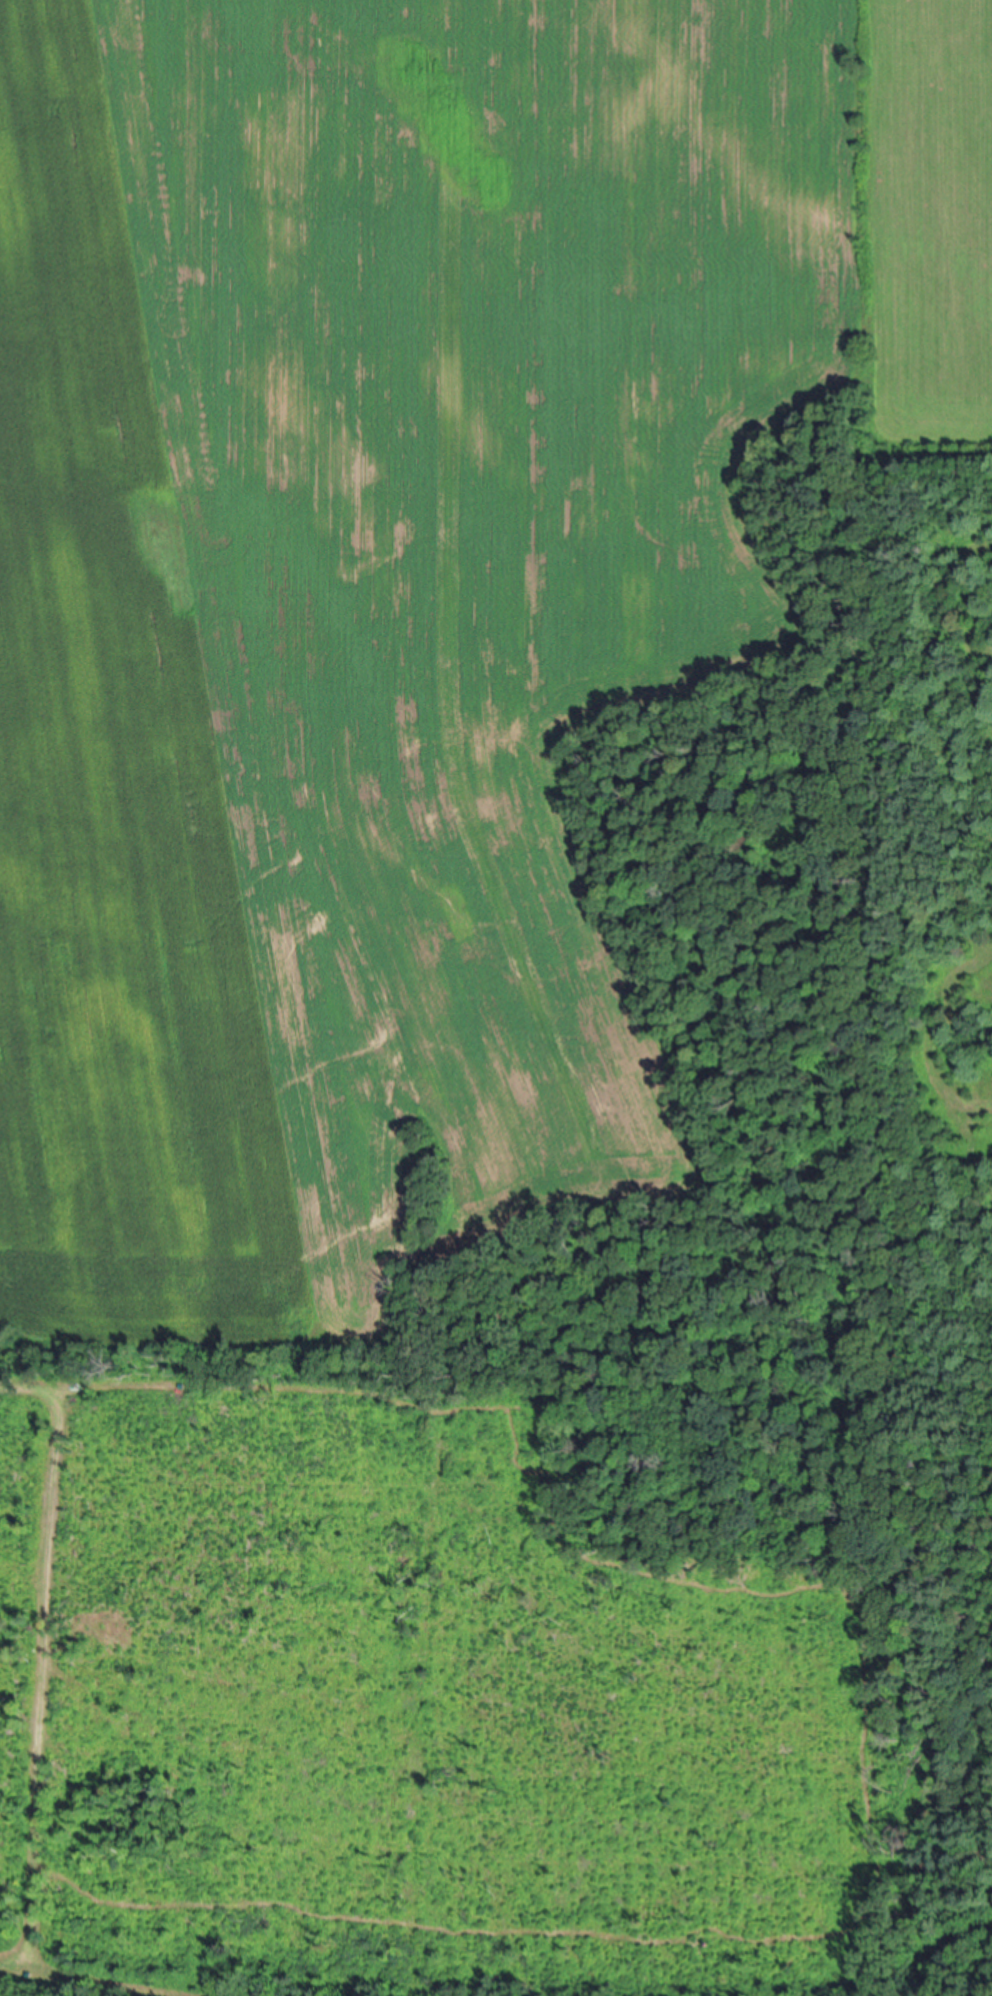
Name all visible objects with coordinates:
crop: (932, 216)
crop: (369, 612)

